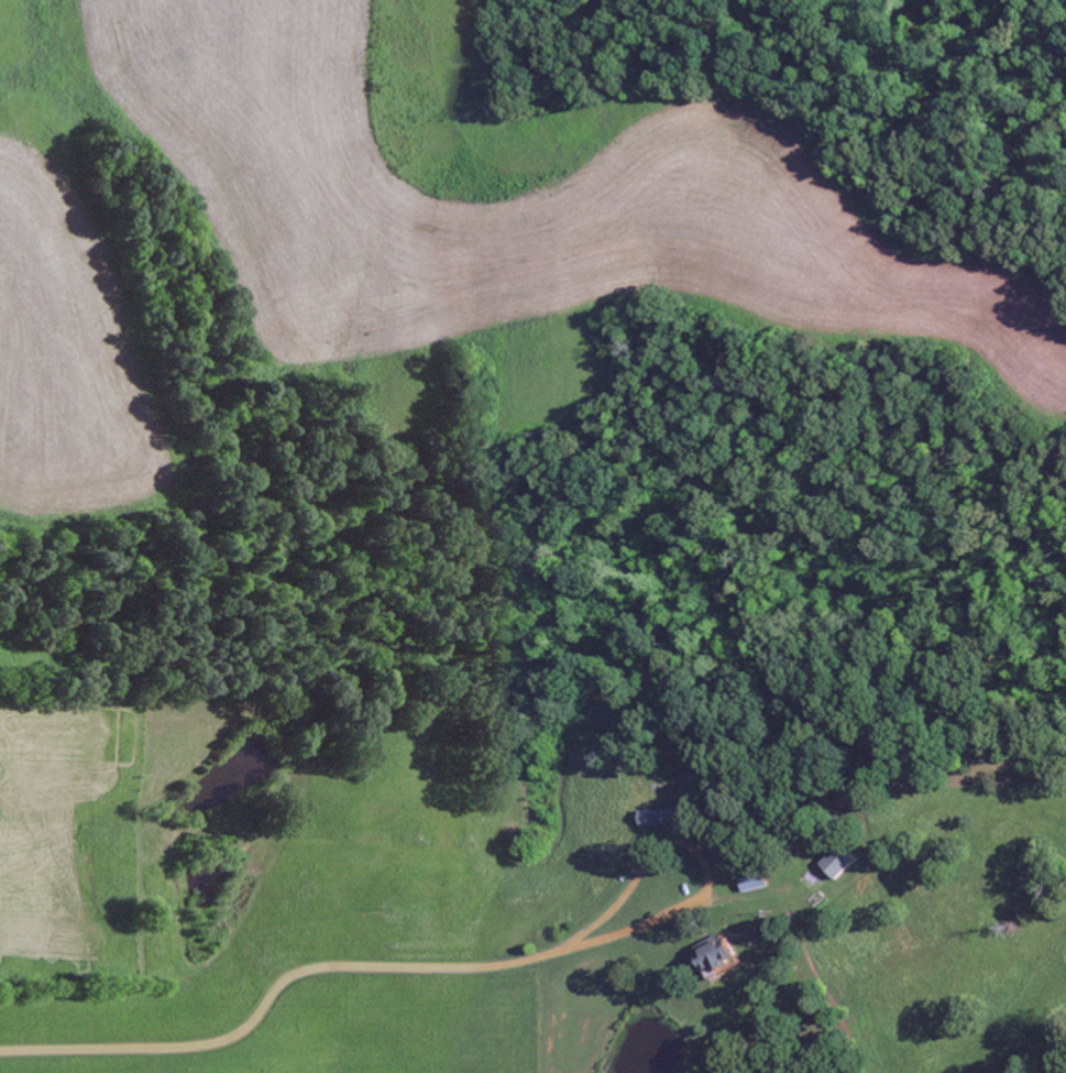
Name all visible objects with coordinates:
building: (668, 818)
building: (845, 863)
building: (758, 883)
building: (722, 955)

